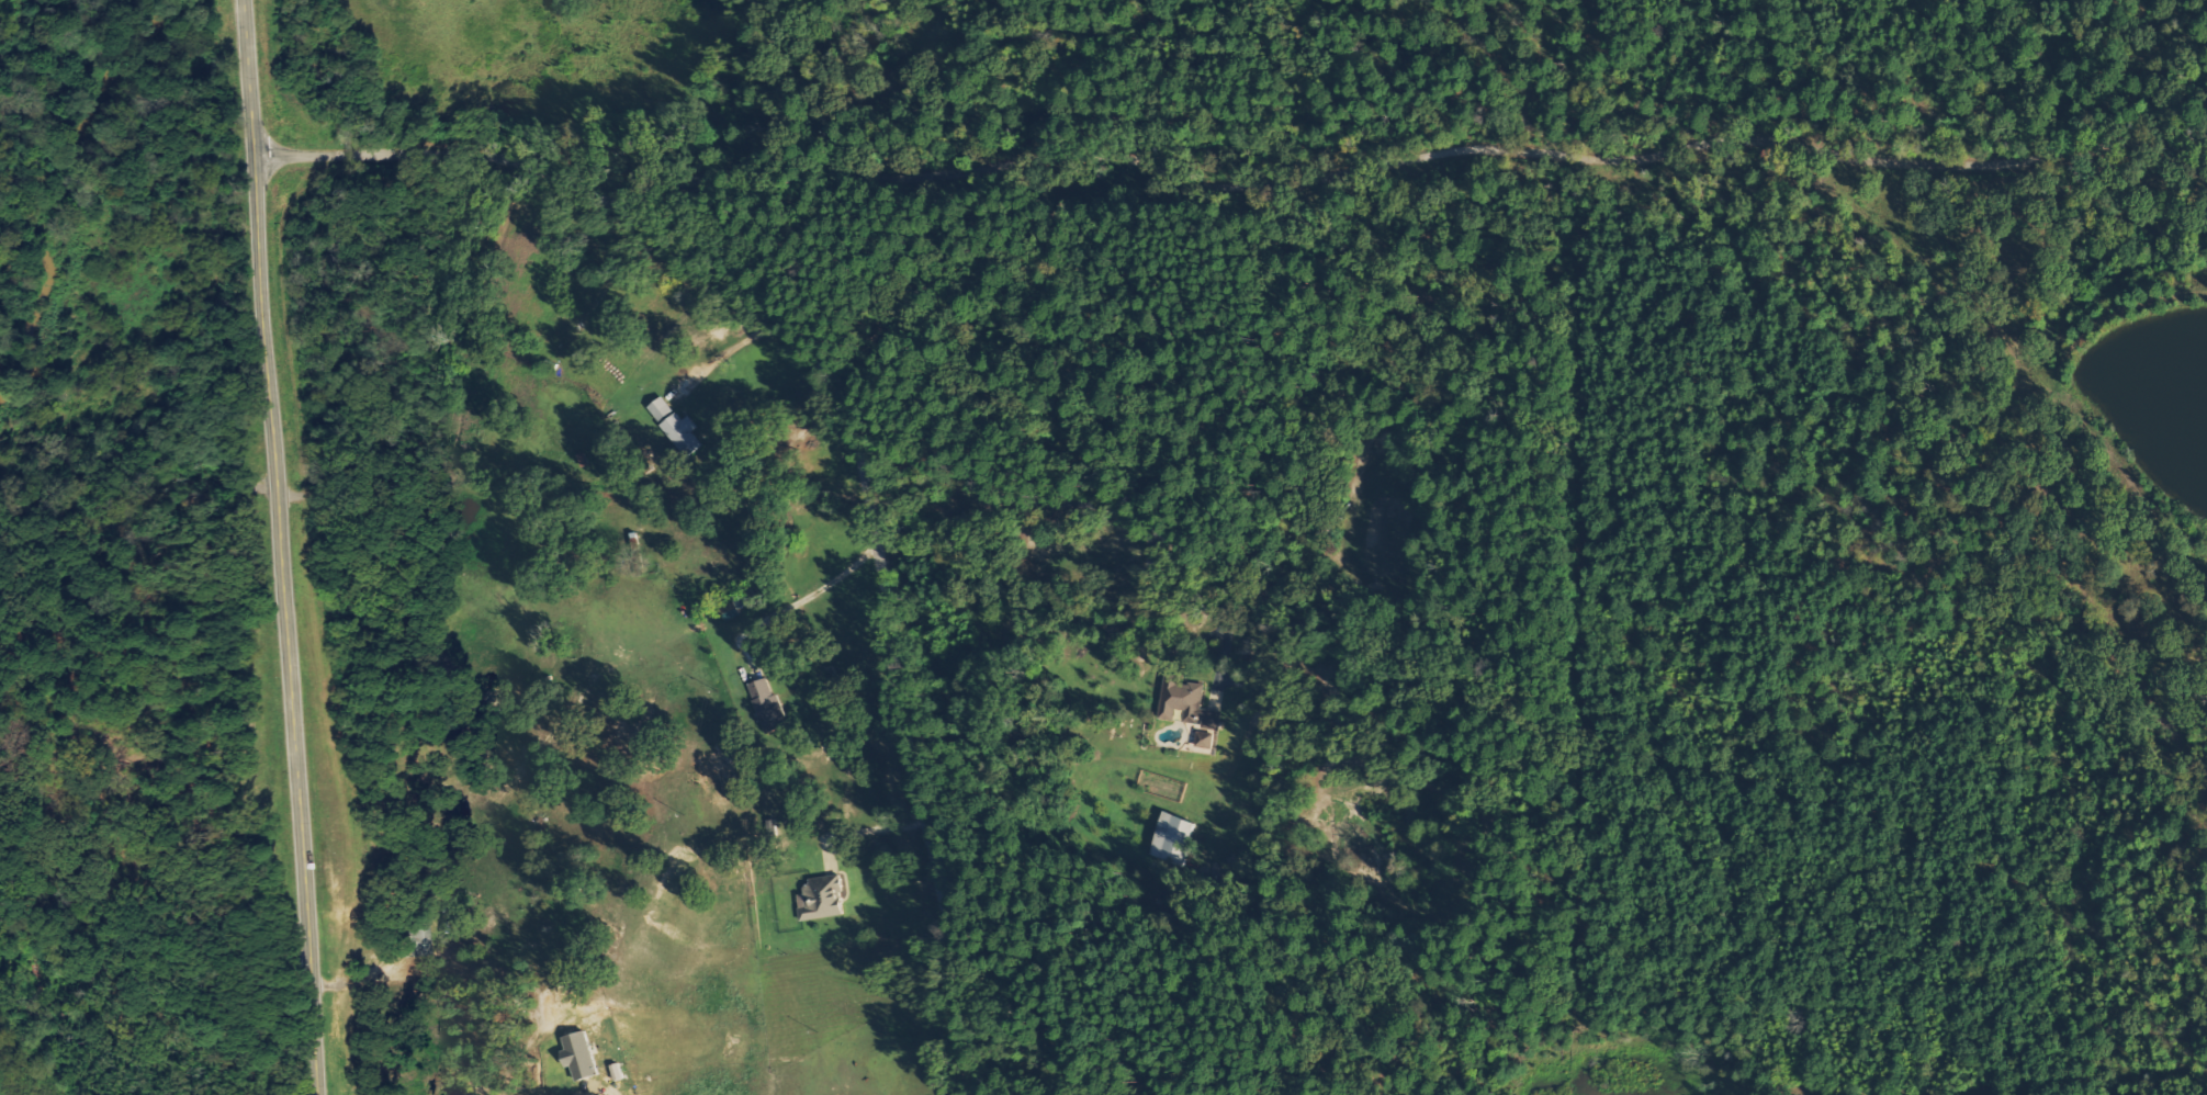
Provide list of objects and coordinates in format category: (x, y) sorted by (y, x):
road: (842, 425)
building: (678, 426)
road: (284, 546)
building: (734, 605)
building: (767, 700)
building: (1187, 702)
building: (1206, 738)
building: (1170, 837)
building: (823, 898)
building: (582, 1054)

